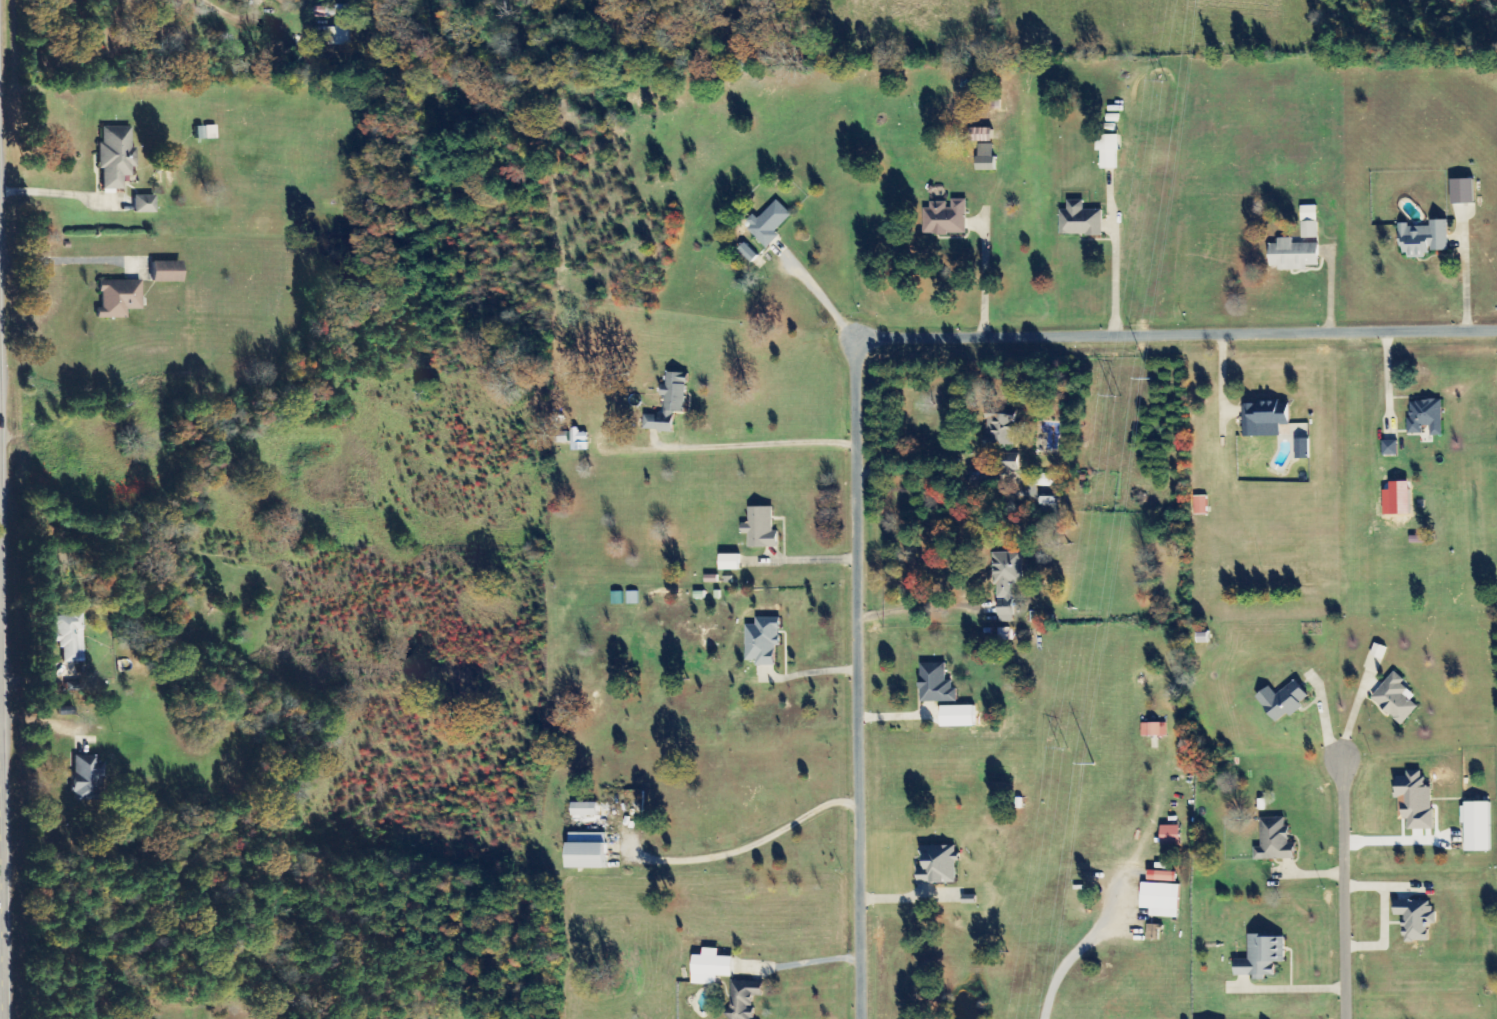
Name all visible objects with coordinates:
building: (338, 26)
building: (203, 132)
building: (981, 135)
building: (1108, 152)
building: (113, 157)
building: (985, 157)
building: (1462, 191)
building: (141, 204)
building: (945, 218)
building: (1080, 220)
building: (769, 223)
building: (1308, 224)
building: (1423, 239)
building: (748, 253)
building: (1293, 255)
building: (162, 271)
building: (115, 298)
road: (867, 371)
building: (669, 403)
building: (1425, 416)
building: (1264, 418)
building: (1002, 430)
building: (562, 436)
building: (579, 440)
building: (1389, 447)
building: (1302, 448)
building: (1010, 462)
building: (1049, 480)
building: (1200, 505)
building: (760, 528)
building: (729, 562)
building: (1007, 581)
building: (632, 597)
building: (616, 598)
building: (1004, 634)
building: (66, 636)
building: (935, 684)
building: (1395, 698)
building: (1281, 700)
building: (1153, 729)
building: (82, 776)
building: (1415, 800)
building: (584, 809)
building: (1476, 826)
building: (1169, 835)
building: (1274, 841)
building: (937, 864)
building: (1161, 876)
road: (1355, 896)
building: (1415, 919)
building: (1261, 957)
building: (710, 967)
building: (742, 1000)

